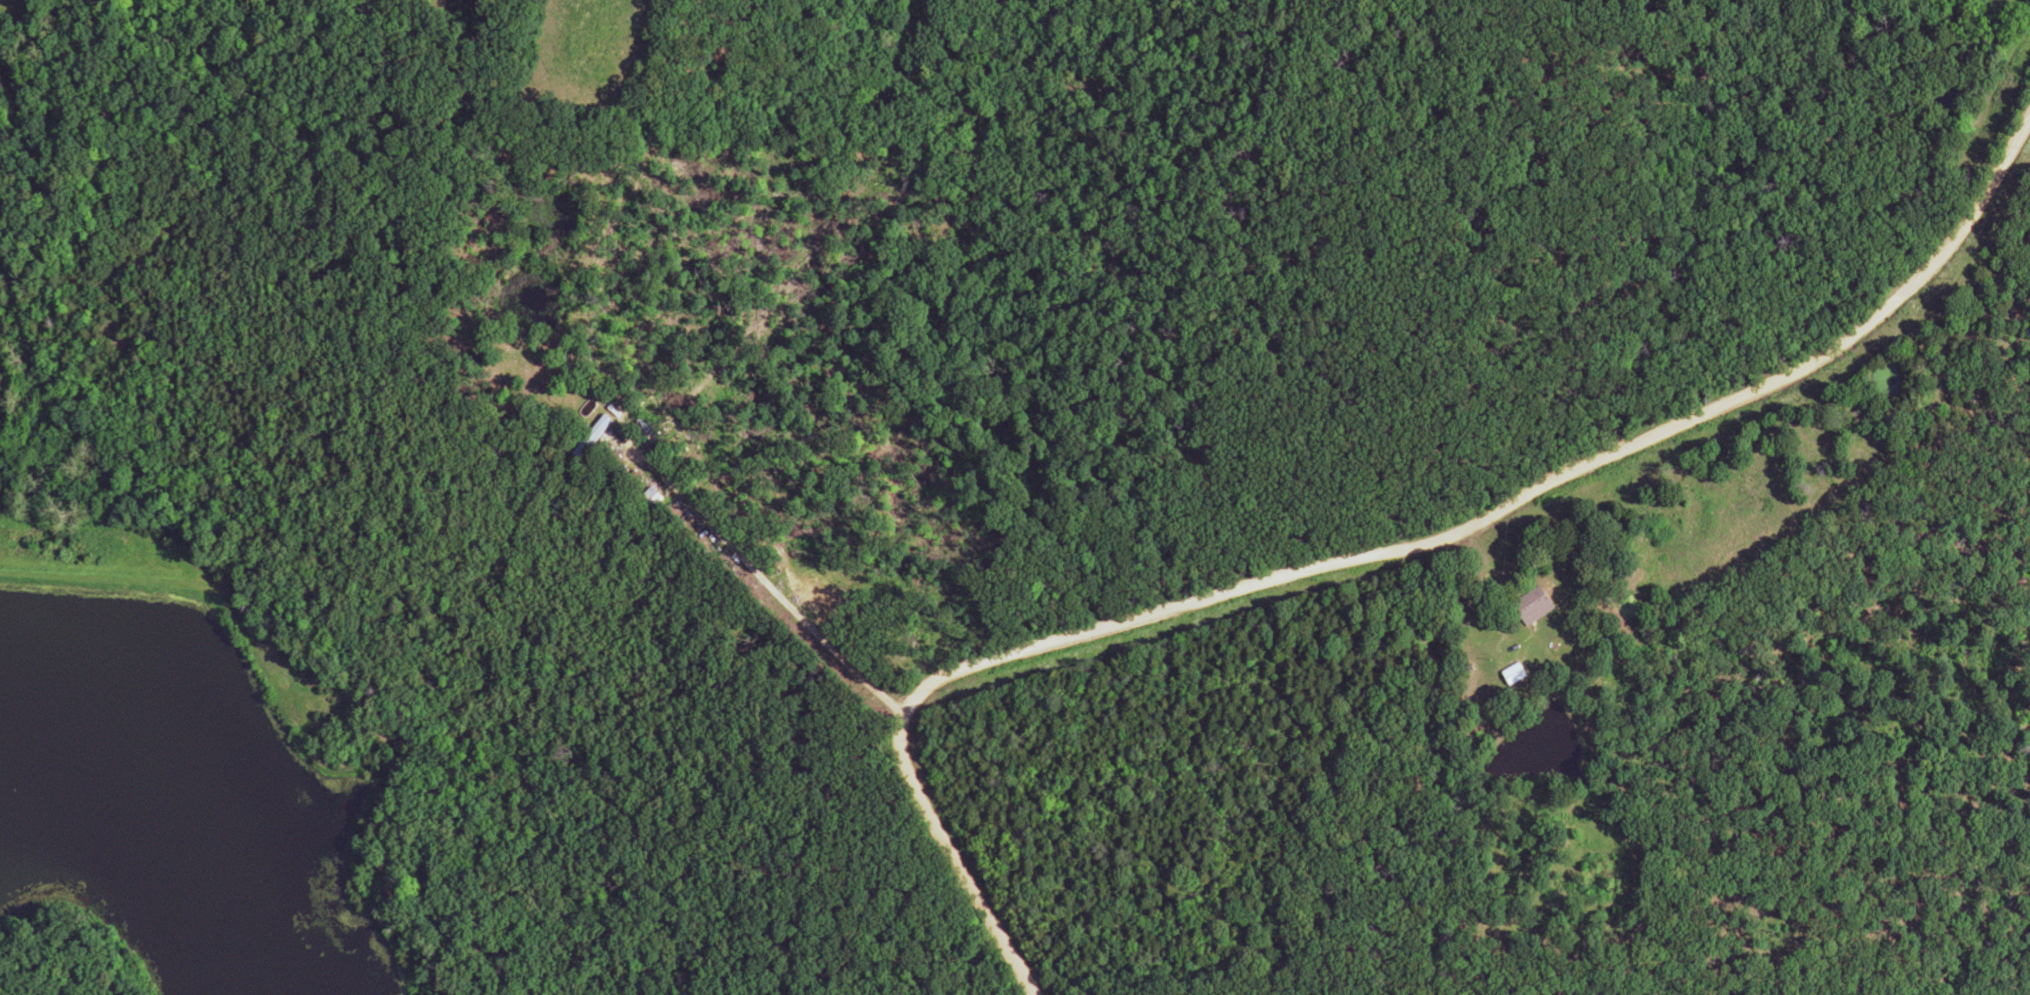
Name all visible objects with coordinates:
building: (588, 437)
building: (647, 498)
road: (1369, 556)
road: (768, 587)
building: (1527, 606)
building: (1509, 675)

